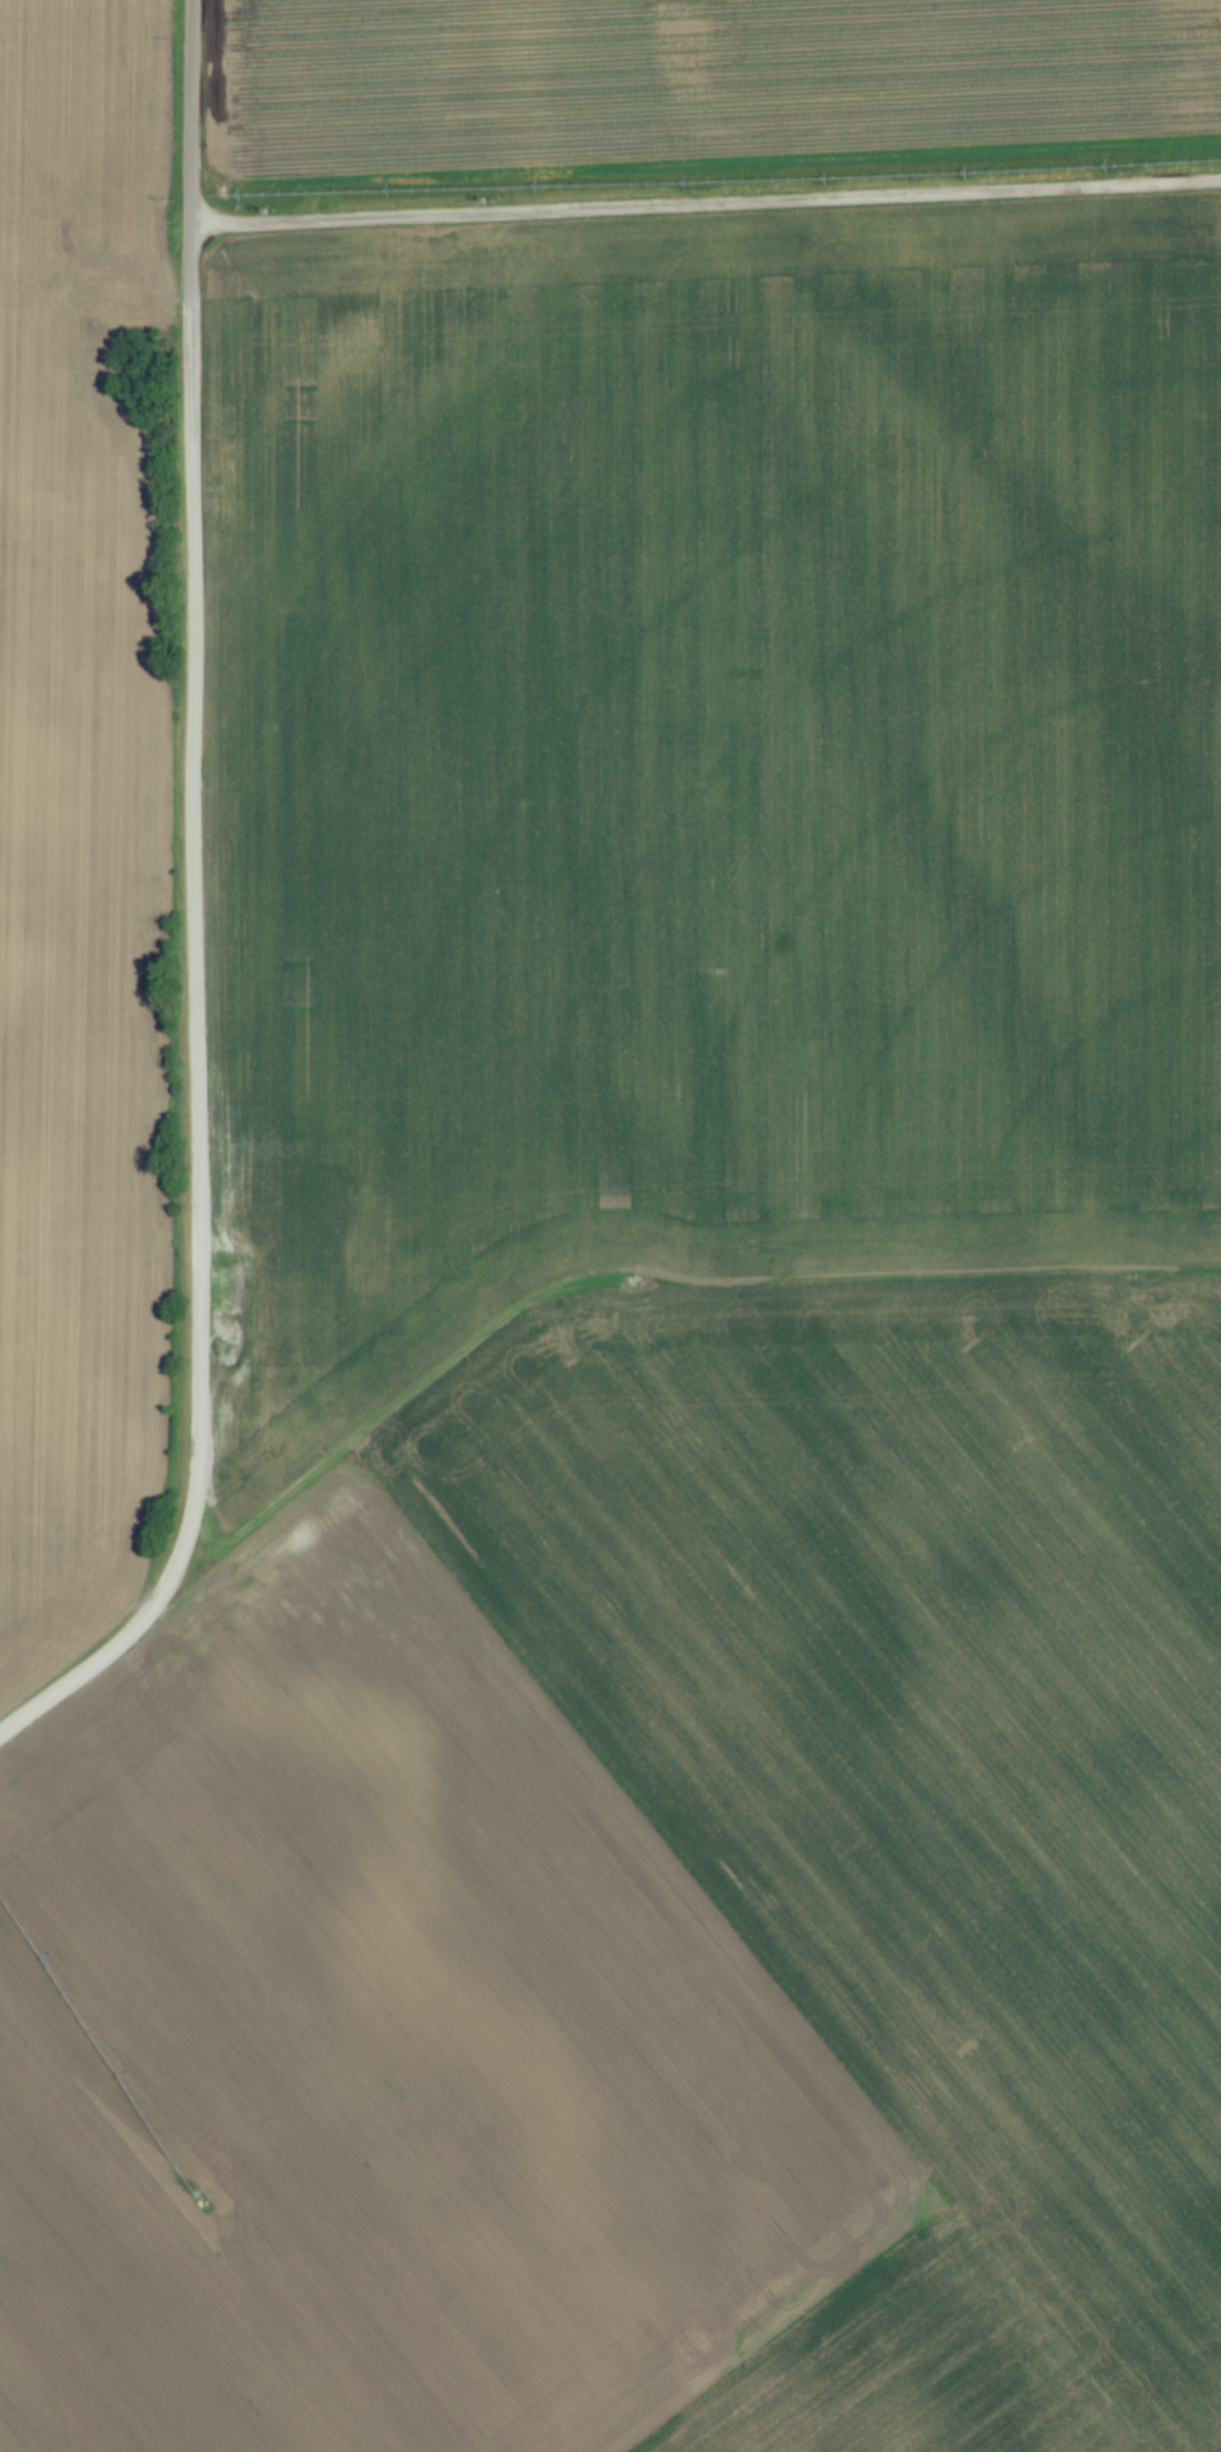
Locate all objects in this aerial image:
road: (191, 116)
road: (706, 187)
road: (195, 1030)

